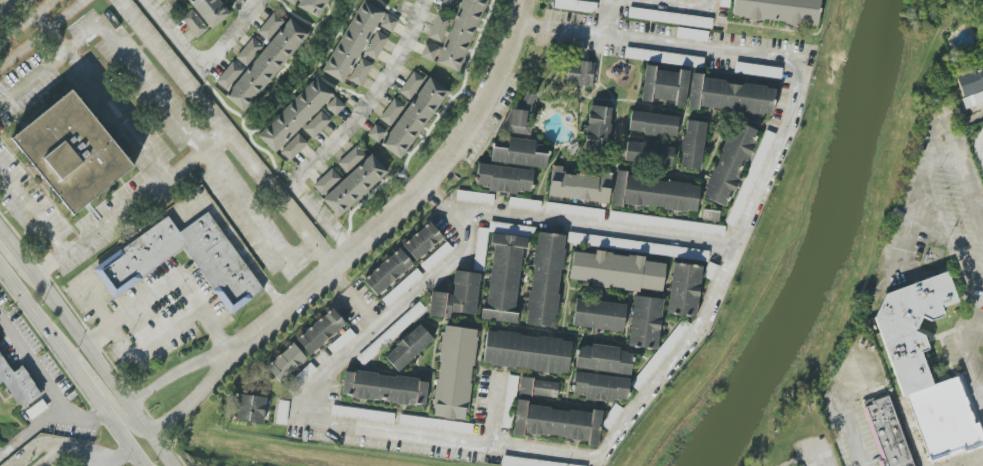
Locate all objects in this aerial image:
building: (691, 0)
building: (169, 1)
building: (291, 1)
road: (4, 3)
building: (725, 3)
building: (177, 4)
road: (671, 4)
building: (319, 5)
building: (575, 5)
building: (778, 10)
building: (217, 11)
building: (670, 17)
road: (606, 18)
road: (27, 20)
building: (194, 23)
building: (269, 26)
building: (438, 27)
building: (469, 33)
road: (42, 34)
building: (692, 34)
building: (359, 42)
building: (375, 45)
building: (429, 52)
building: (248, 54)
building: (658, 57)
road: (200, 66)
building: (274, 66)
building: (757, 70)
building: (360, 71)
building: (580, 73)
building: (228, 75)
building: (970, 84)
building: (410, 85)
building: (664, 85)
road: (101, 95)
building: (728, 95)
building: (335, 106)
road: (165, 107)
building: (391, 111)
road: (977, 114)
building: (519, 115)
building: (300, 116)
building: (422, 119)
building: (652, 123)
building: (316, 124)
building: (597, 130)
road: (344, 132)
road: (226, 133)
road: (934, 139)
building: (692, 145)
building: (294, 147)
building: (71, 151)
building: (519, 152)
building: (648, 154)
road: (982, 155)
building: (350, 158)
building: (729, 165)
building: (503, 178)
building: (750, 178)
building: (327, 182)
building: (361, 185)
building: (579, 186)
building: (653, 193)
building: (474, 197)
road: (407, 201)
building: (524, 204)
road: (130, 205)
building: (574, 210)
road: (32, 216)
building: (666, 223)
road: (594, 226)
building: (422, 241)
building: (481, 243)
road: (10, 245)
building: (638, 246)
road: (122, 249)
building: (436, 257)
building: (137, 260)
road: (16, 266)
building: (387, 271)
building: (616, 271)
building: (503, 278)
building: (545, 279)
road: (168, 283)
building: (401, 288)
building: (684, 289)
building: (456, 296)
road: (360, 312)
building: (598, 314)
road: (33, 316)
building: (645, 323)
building: (320, 332)
building: (390, 333)
building: (341, 341)
building: (408, 347)
building: (527, 352)
building: (658, 357)
road: (966, 358)
building: (604, 359)
road: (95, 362)
building: (285, 363)
road: (35, 366)
building: (925, 366)
building: (307, 371)
building: (454, 372)
road: (171, 374)
building: (511, 384)
building: (600, 386)
road: (102, 388)
building: (384, 388)
building: (537, 388)
building: (22, 389)
road: (86, 389)
road: (981, 395)
road: (191, 399)
building: (249, 408)
road: (838, 408)
road: (490, 411)
building: (282, 412)
road: (633, 412)
building: (362, 414)
road: (46, 417)
building: (611, 417)
building: (557, 422)
building: (435, 424)
building: (887, 432)
road: (124, 440)
road: (82, 454)
road: (54, 457)
road: (118, 457)
building: (527, 462)

